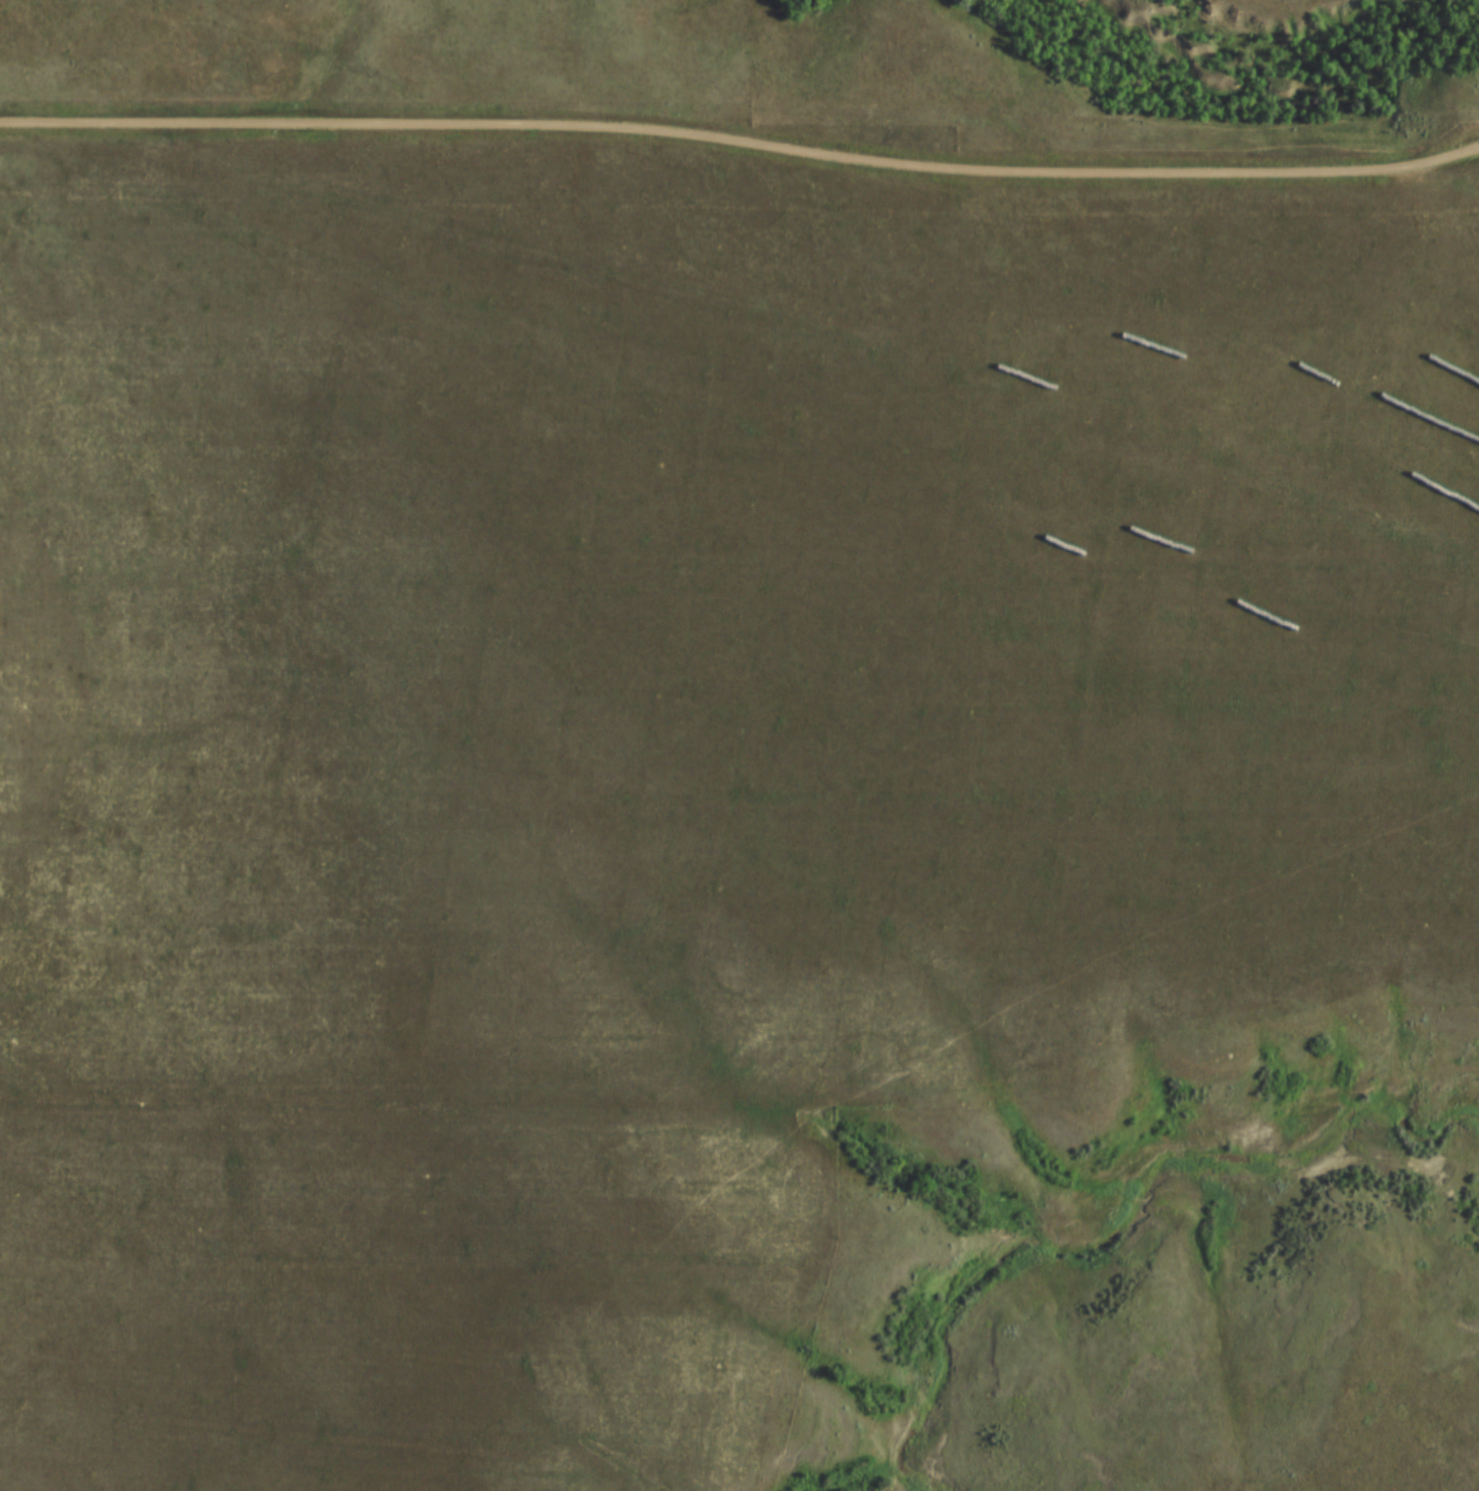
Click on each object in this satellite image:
road: (742, 139)

